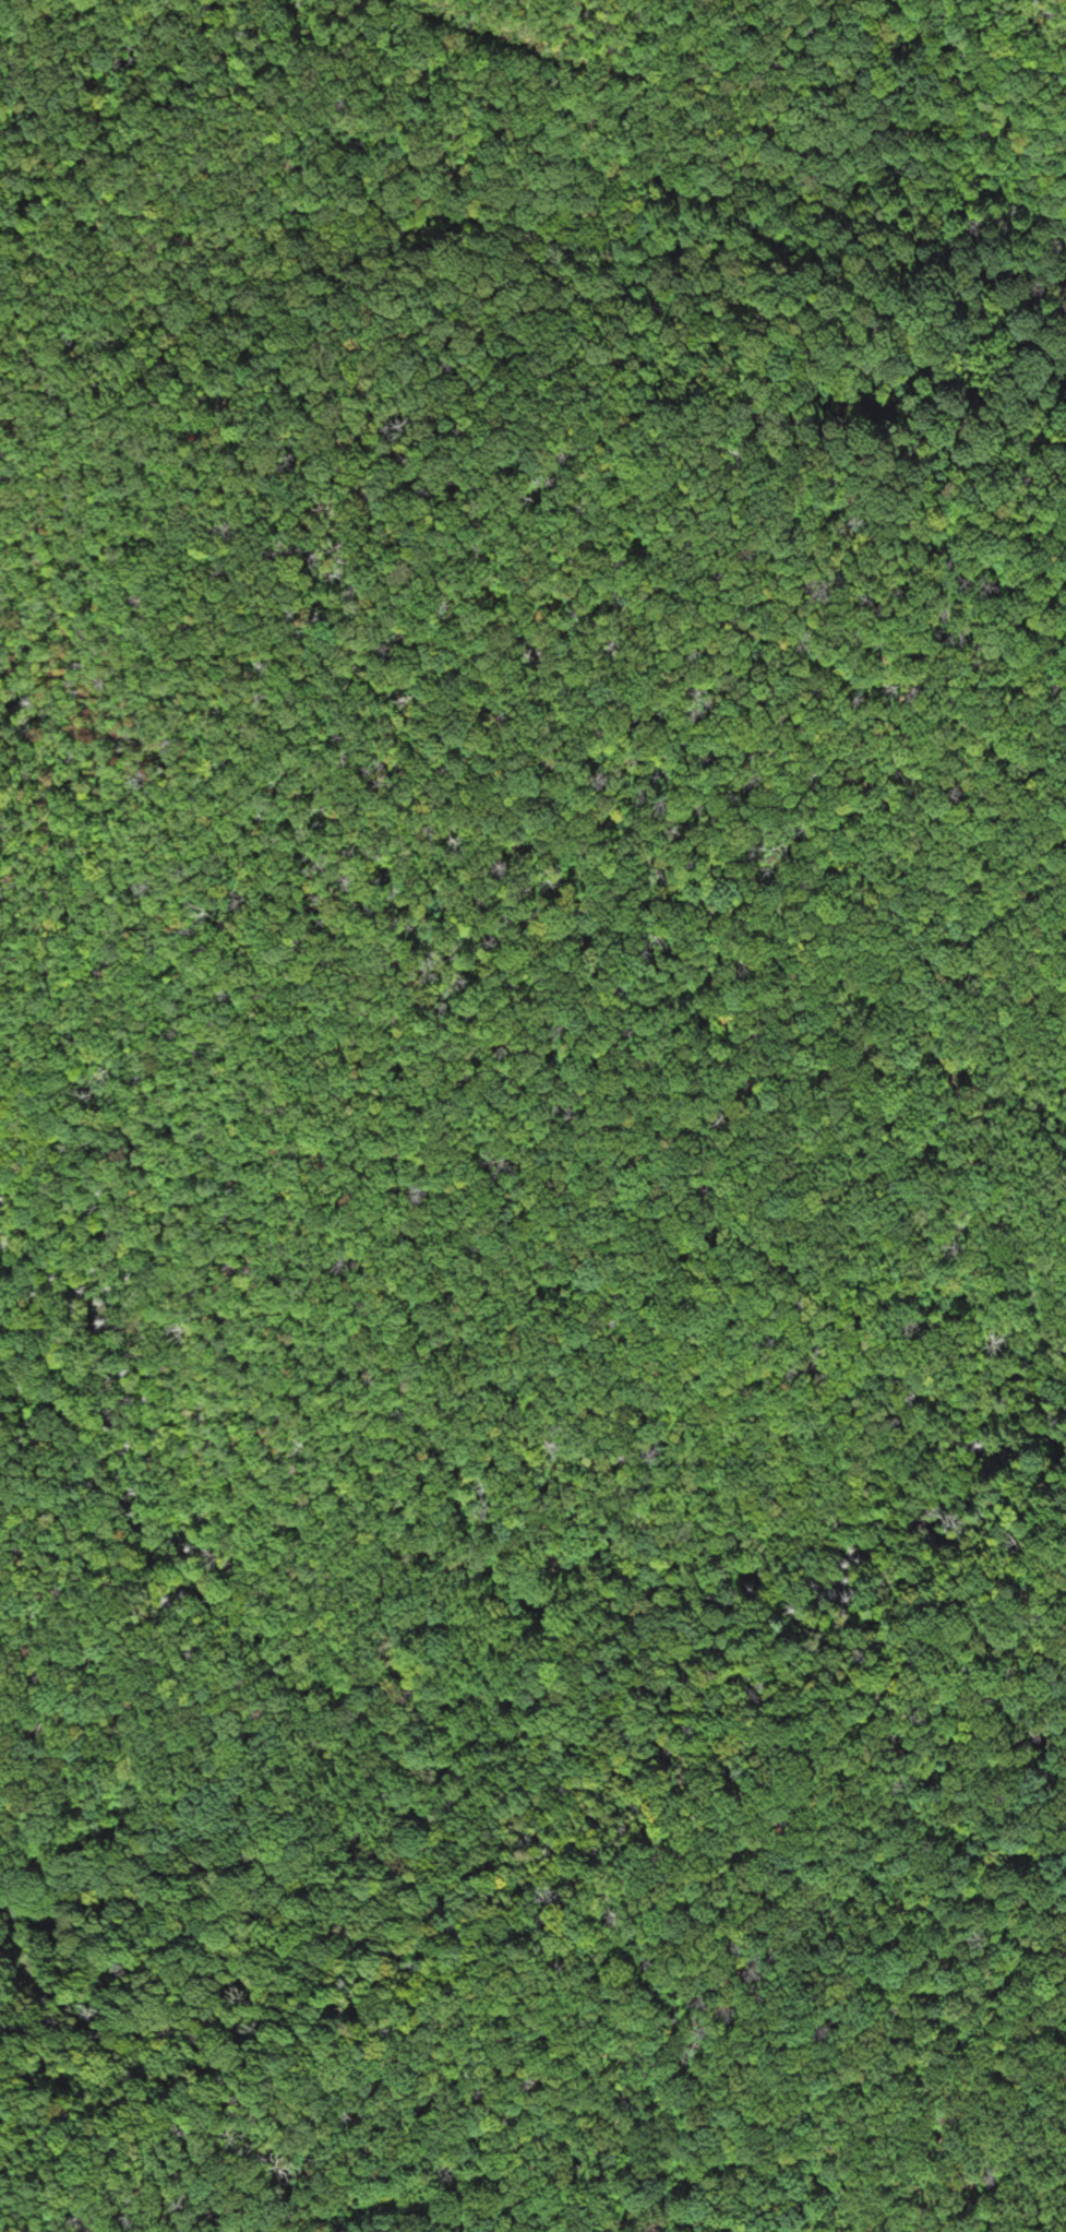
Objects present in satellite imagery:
road: (781, 1439)
road: (871, 2221)

